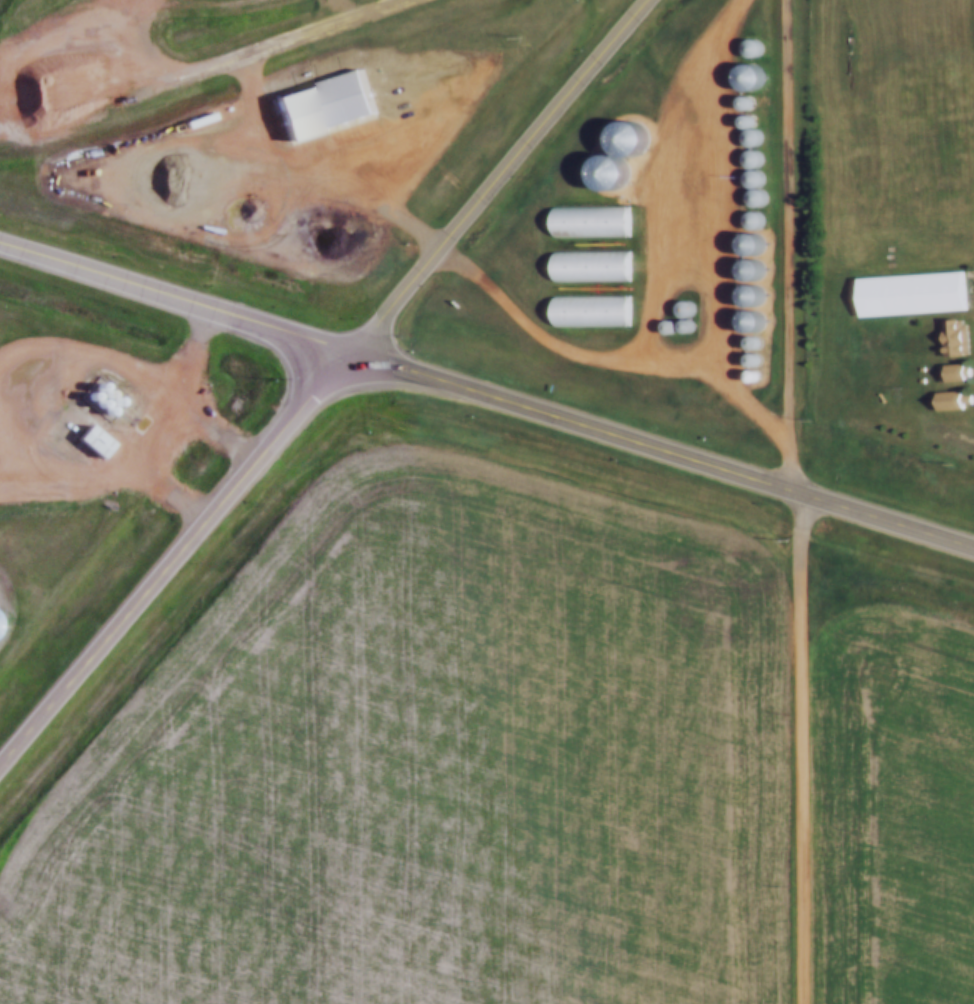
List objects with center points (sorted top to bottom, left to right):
road: (336, 12)
road: (327, 29)
building: (747, 48)
silo: (747, 48)
building: (744, 76)
silo: (744, 76)
road: (123, 96)
building: (742, 102)
silo: (742, 102)
building: (323, 110)
building: (743, 119)
silo: (743, 119)
building: (746, 137)
silo: (746, 137)
building: (623, 139)
silo: (623, 139)
building: (746, 158)
silo: (746, 158)
road: (656, 170)
building: (603, 172)
silo: (603, 172)
building: (747, 178)
silo: (747, 178)
road: (499, 180)
building: (755, 195)
building: (747, 197)
silo: (747, 197)
building: (748, 218)
silo: (748, 218)
building: (584, 221)
road: (722, 232)
building: (745, 244)
silo: (745, 244)
road: (789, 245)
road: (457, 258)
building: (584, 264)
building: (745, 269)
silo: (745, 269)
building: (746, 295)
silo: (746, 295)
building: (907, 295)
road: (174, 305)
building: (678, 307)
silo: (678, 307)
building: (584, 310)
building: (746, 320)
silo: (746, 320)
building: (661, 324)
silo: (661, 324)
building: (678, 324)
silo: (678, 324)
building: (950, 339)
building: (746, 343)
silo: (746, 343)
building: (746, 359)
silo: (746, 359)
building: (950, 374)
building: (746, 376)
silo: (746, 376)
storage tank: (92, 386)
storage tank: (100, 393)
storage tank: (84, 395)
storage tank: (109, 399)
building: (948, 401)
storage tank: (93, 402)
storage tank: (101, 408)
road: (157, 428)
road: (217, 429)
building: (88, 442)
road: (663, 449)
road: (171, 561)
road: (800, 746)

